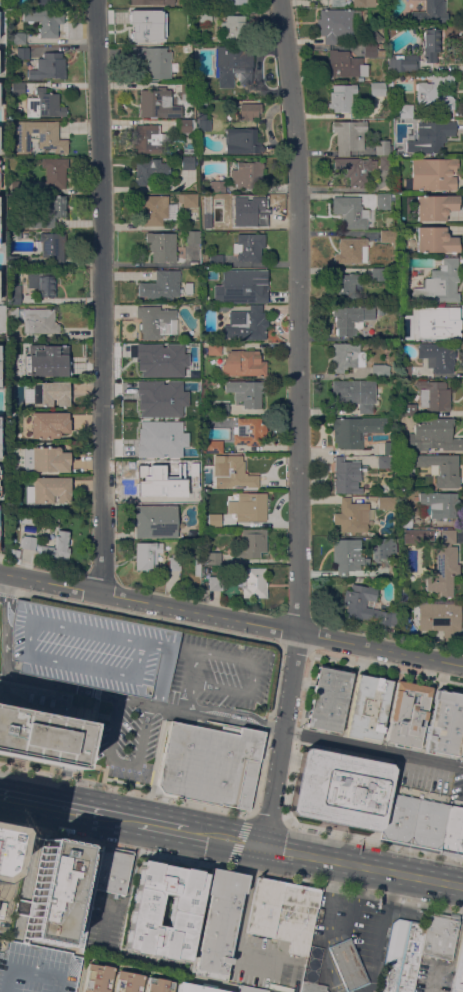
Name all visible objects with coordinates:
building: (232, 1)
building: (50, 2)
building: (151, 2)
building: (337, 3)
building: (363, 4)
building: (431, 12)
building: (178, 13)
building: (205, 15)
building: (45, 20)
building: (334, 24)
building: (145, 26)
building: (234, 27)
building: (375, 35)
building: (19, 37)
building: (431, 43)
building: (372, 51)
building: (22, 52)
building: (153, 60)
building: (345, 63)
building: (403, 63)
building: (234, 64)
building: (48, 66)
building: (17, 88)
building: (377, 88)
building: (187, 90)
building: (434, 93)
building: (342, 97)
building: (158, 103)
building: (44, 104)
building: (249, 110)
building: (404, 111)
building: (203, 122)
building: (187, 133)
building: (349, 135)
building: (39, 136)
building: (430, 136)
building: (148, 138)
building: (242, 140)
building: (382, 147)
building: (187, 162)
building: (385, 162)
building: (373, 163)
building: (353, 169)
building: (54, 171)
building: (151, 171)
building: (247, 173)
building: (431, 173)
building: (17, 185)
building: (217, 185)
building: (188, 199)
building: (382, 200)
building: (435, 206)
building: (154, 209)
building: (248, 209)
building: (350, 211)
building: (49, 212)
building: (216, 222)
building: (390, 236)
building: (193, 237)
building: (435, 239)
building: (51, 245)
building: (161, 246)
building: (248, 247)
building: (352, 250)
building: (215, 260)
building: (377, 274)
building: (439, 282)
building: (41, 283)
building: (161, 285)
building: (343, 285)
building: (241, 286)
building: (188, 287)
building: (13, 295)
road: (103, 296)
building: (222, 307)
building: (380, 310)
building: (11, 313)
road: (298, 314)
building: (2, 318)
building: (350, 318)
building: (40, 320)
building: (156, 321)
building: (245, 324)
building: (443, 326)
building: (213, 348)
building: (346, 356)
building: (437, 356)
building: (0, 359)
building: (40, 361)
building: (150, 363)
building: (243, 363)
building: (378, 370)
building: (183, 378)
building: (246, 392)
building: (50, 393)
building: (355, 393)
building: (433, 394)
building: (159, 398)
park: (1, 403)
building: (221, 408)
building: (409, 408)
building: (49, 424)
building: (188, 424)
building: (156, 427)
building: (248, 430)
building: (356, 430)
building: (433, 435)
building: (0, 444)
building: (211, 446)
building: (389, 447)
building: (205, 456)
building: (49, 459)
building: (383, 462)
building: (441, 468)
building: (232, 471)
building: (346, 475)
building: (152, 482)
building: (51, 489)
building: (197, 489)
building: (372, 498)
building: (387, 502)
building: (439, 504)
building: (248, 506)
building: (352, 515)
building: (213, 520)
building: (405, 520)
building: (155, 521)
building: (416, 535)
building: (28, 542)
building: (252, 543)
building: (57, 546)
building: (382, 551)
building: (14, 553)
building: (147, 555)
building: (347, 555)
building: (213, 558)
building: (174, 562)
building: (197, 562)
building: (443, 565)
road: (4, 582)
road: (49, 582)
building: (253, 582)
building: (215, 583)
building: (366, 605)
building: (440, 619)
road: (281, 627)
road: (223, 632)
building: (87, 648)
road: (309, 659)
road: (255, 662)
road: (25, 678)
road: (290, 679)
road: (189, 695)
building: (328, 698)
road: (138, 700)
building: (368, 706)
road: (177, 708)
road: (231, 709)
building: (407, 713)
road: (229, 718)
road: (270, 723)
building: (445, 723)
building: (39, 725)
road: (372, 747)
road: (120, 760)
building: (208, 764)
road: (272, 786)
road: (125, 788)
building: (339, 789)
road: (51, 804)
road: (266, 816)
building: (397, 817)
road: (122, 818)
building: (427, 823)
road: (164, 826)
building: (452, 831)
road: (223, 838)
road: (372, 838)
road: (238, 839)
building: (3, 844)
road: (125, 847)
road: (15, 850)
road: (253, 858)
road: (362, 866)
building: (111, 870)
road: (127, 887)
road: (357, 892)
building: (59, 894)
building: (264, 907)
building: (163, 909)
building: (296, 917)
building: (218, 924)
road: (239, 930)
building: (439, 935)
building: (402, 956)
road: (454, 957)
building: (293, 961)
building: (311, 963)
building: (348, 964)
building: (36, 969)
parking lot: (36, 969)
building: (460, 974)
building: (289, 976)
building: (122, 981)
building: (198, 987)
building: (313, 987)
building: (250, 989)
building: (286, 989)

